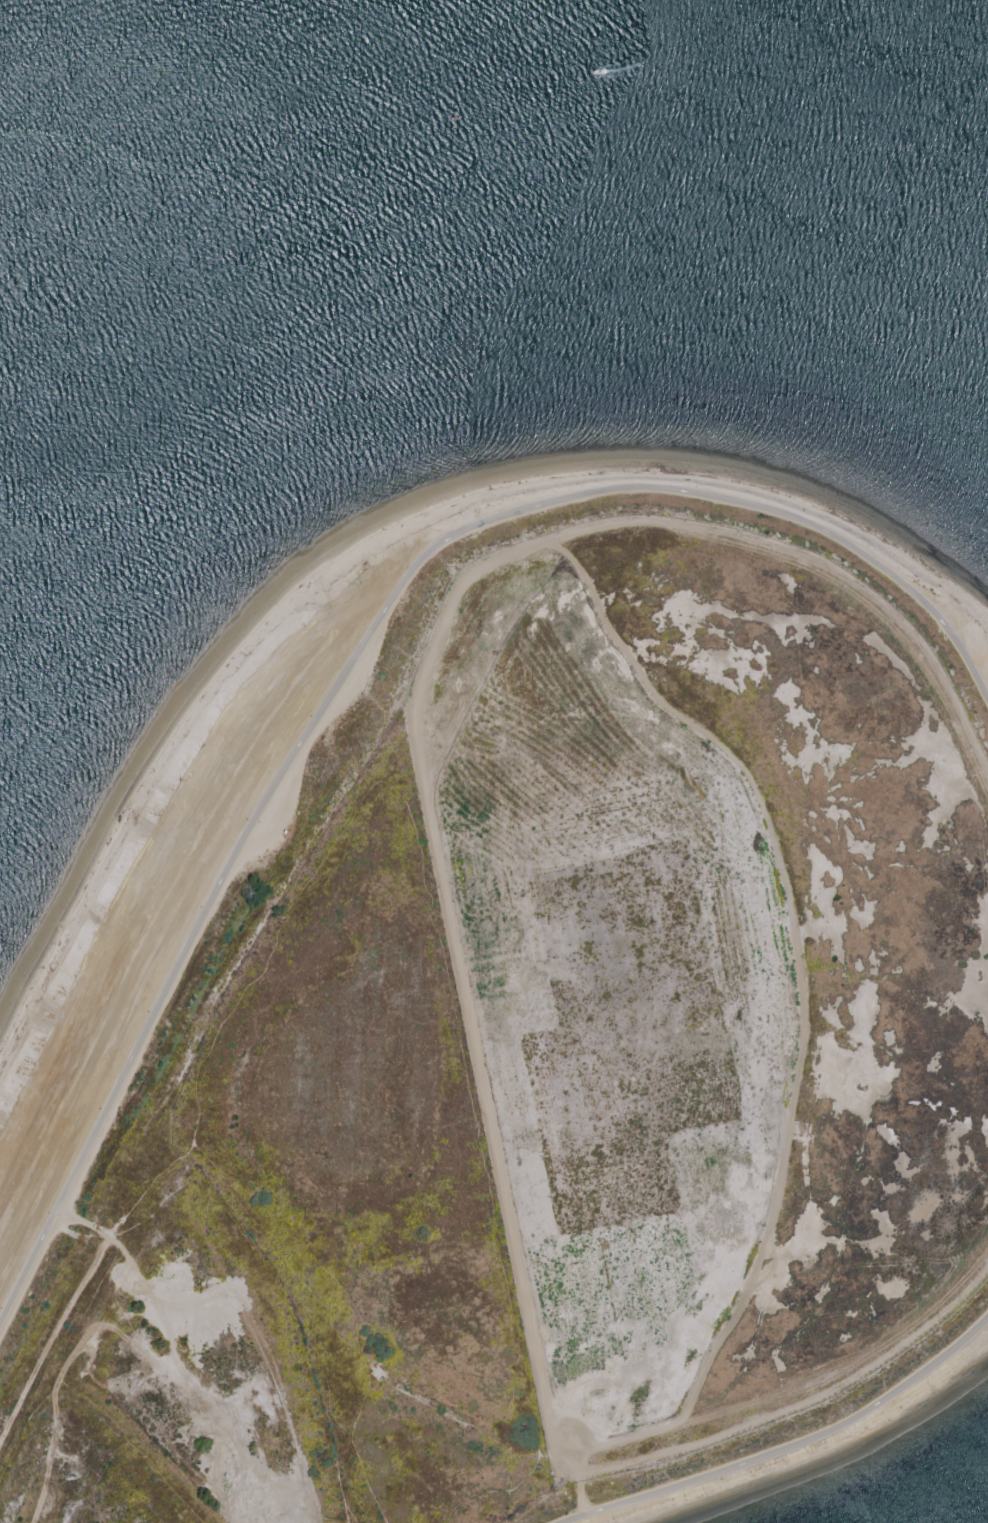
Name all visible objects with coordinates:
road: (361, 642)
park: (516, 1029)
road: (788, 1447)

